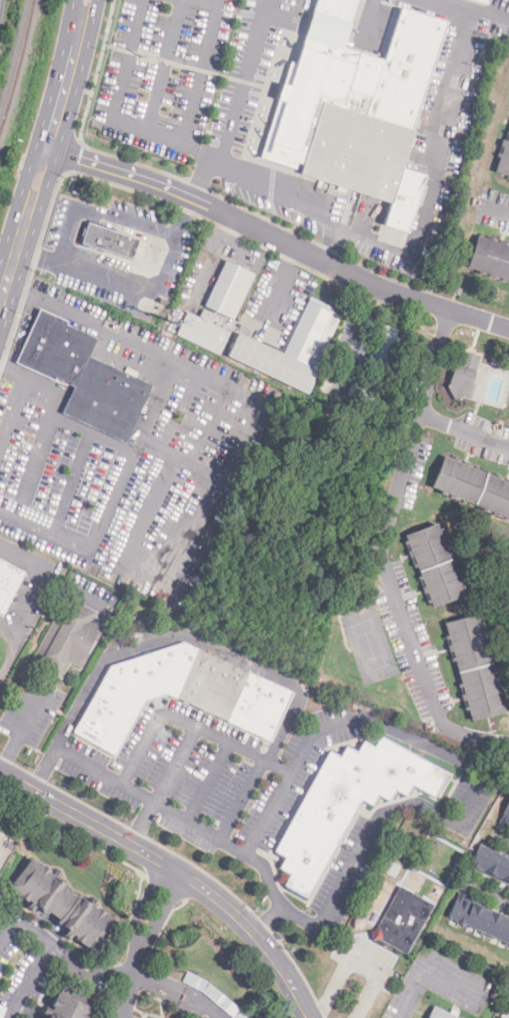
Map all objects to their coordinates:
building: (483, 1)
road: (232, 7)
road: (451, 7)
railway: (17, 59)
road: (130, 62)
road: (165, 68)
road: (192, 68)
road: (199, 72)
road: (237, 103)
building: (339, 113)
road: (168, 141)
road: (506, 145)
road: (47, 149)
road: (442, 155)
road: (77, 157)
building: (504, 160)
road: (182, 178)
road: (298, 202)
road: (493, 209)
parking lot: (492, 212)
road: (490, 231)
road: (241, 236)
road: (277, 240)
building: (110, 243)
road: (171, 257)
road: (502, 257)
building: (492, 258)
road: (33, 272)
road: (26, 287)
building: (458, 290)
road: (454, 302)
building: (215, 311)
road: (477, 336)
road: (154, 350)
building: (292, 350)
road: (467, 351)
road: (459, 358)
building: (469, 358)
road: (459, 364)
road: (12, 370)
building: (375, 371)
building: (84, 377)
building: (462, 382)
road: (184, 411)
road: (12, 412)
road: (474, 417)
road: (71, 420)
road: (464, 432)
road: (159, 443)
parking lot: (483, 443)
parking lot: (420, 461)
road: (192, 466)
road: (467, 466)
road: (71, 482)
building: (473, 486)
road: (503, 500)
road: (7, 511)
road: (382, 552)
road: (399, 563)
building: (435, 565)
building: (8, 586)
road: (411, 598)
road: (35, 601)
road: (10, 629)
building: (69, 640)
park: (366, 646)
parking lot: (411, 646)
road: (453, 650)
building: (475, 668)
road: (271, 675)
road: (395, 677)
building: (179, 696)
road: (467, 700)
road: (188, 723)
road: (21, 733)
road: (475, 769)
road: (208, 782)
road: (161, 786)
road: (134, 793)
building: (346, 806)
building: (505, 816)
building: (0, 835)
building: (1, 838)
road: (500, 841)
road: (1, 849)
building: (399, 852)
building: (492, 865)
road: (175, 871)
road: (486, 893)
building: (62, 906)
building: (403, 920)
building: (479, 920)
building: (359, 924)
road: (139, 940)
road: (45, 954)
road: (353, 966)
building: (2, 970)
road: (87, 970)
road: (430, 972)
building: (194, 983)
road: (157, 985)
building: (220, 1001)
road: (202, 1004)
building: (70, 1006)
building: (2, 1012)
building: (439, 1013)
building: (240, 1016)

